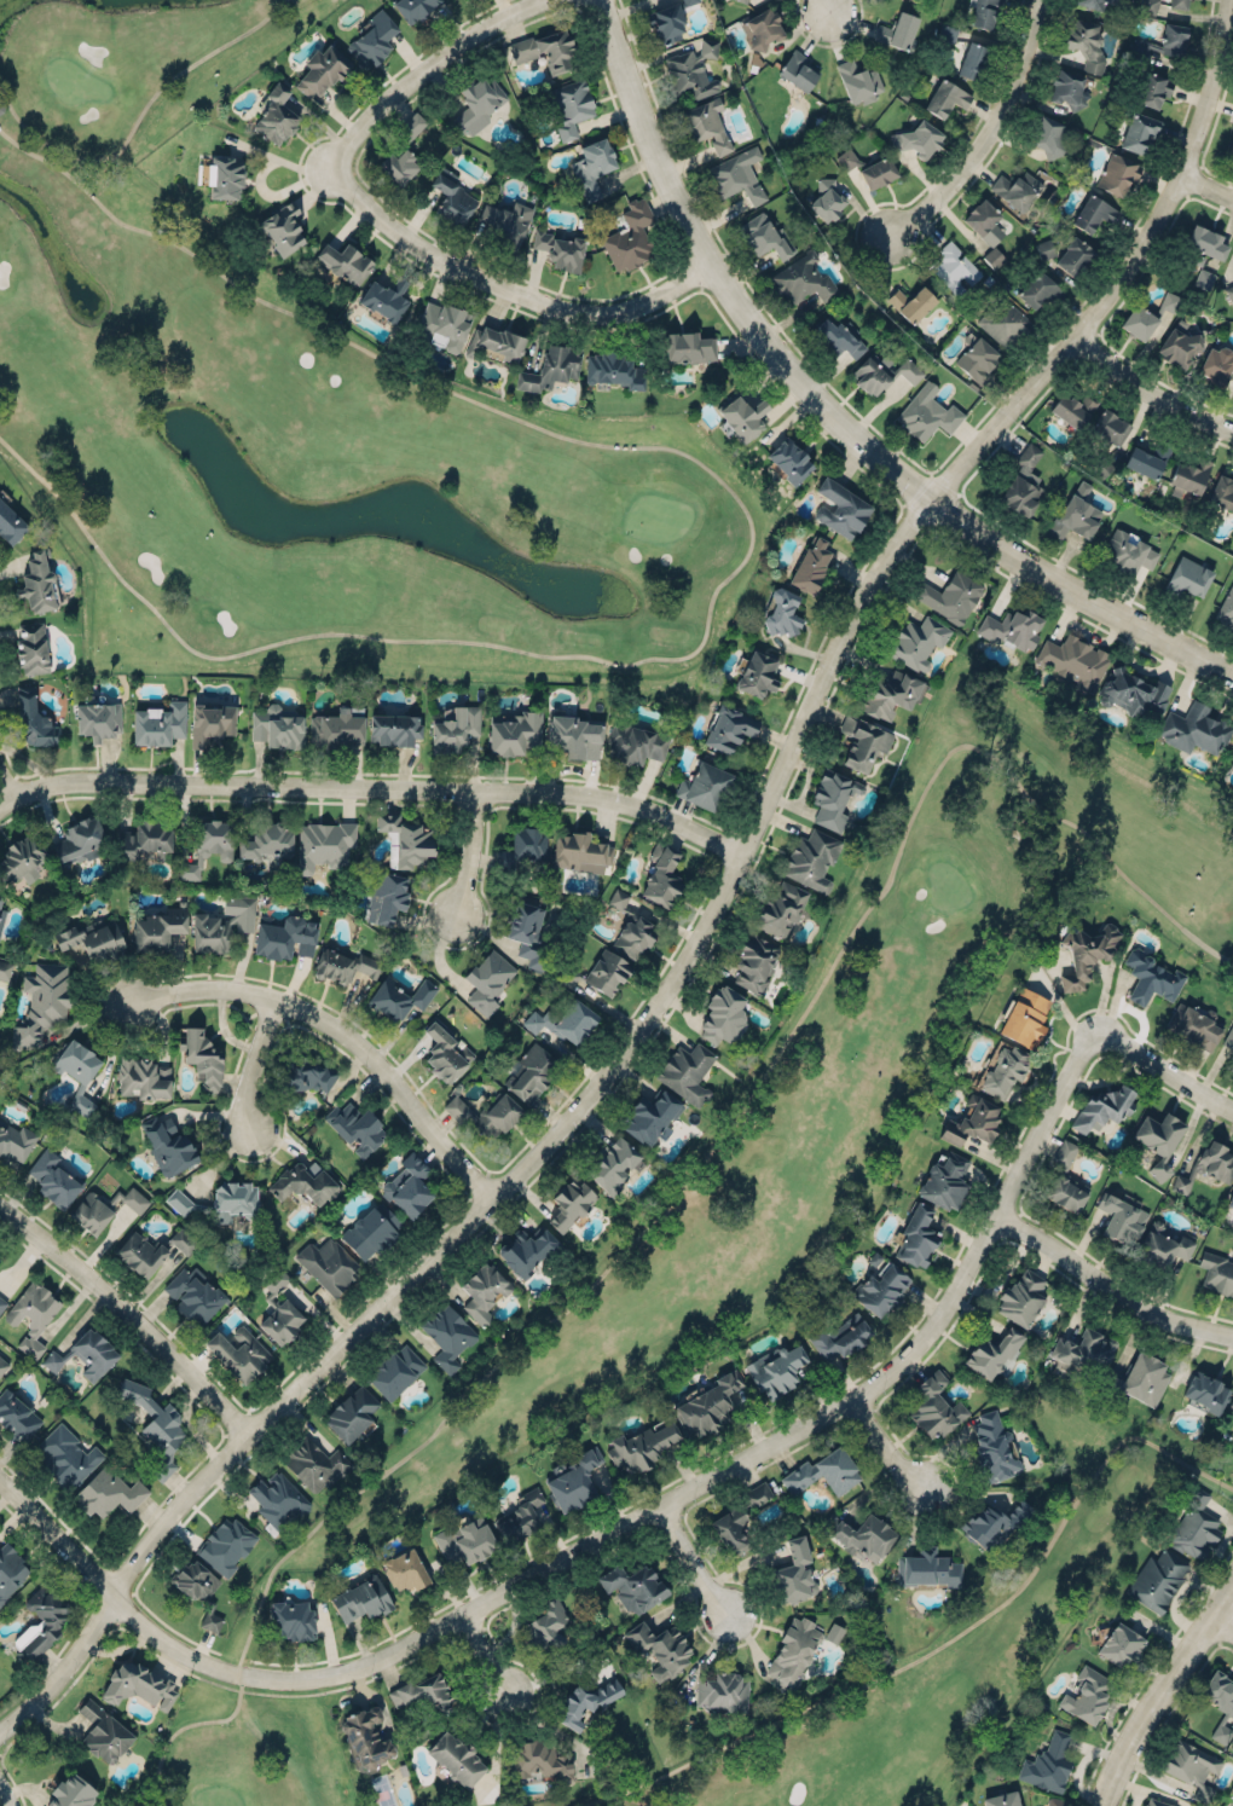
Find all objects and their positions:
building: (739, 0)
building: (1092, 2)
building: (1176, 2)
building: (1148, 6)
building: (413, 7)
road: (828, 8)
building: (985, 12)
building: (665, 19)
building: (760, 27)
building: (897, 29)
building: (947, 33)
building: (372, 39)
building: (1162, 40)
building: (1084, 44)
building: (545, 50)
building: (972, 60)
road: (430, 66)
building: (320, 68)
building: (690, 69)
building: (799, 70)
building: (858, 81)
building: (1066, 86)
building: (1152, 87)
building: (945, 97)
building: (475, 103)
building: (569, 104)
building: (274, 114)
road: (137, 118)
building: (706, 121)
building: (1138, 131)
road: (988, 133)
building: (1047, 135)
building: (916, 138)
building: (1231, 145)
building: (403, 151)
building: (846, 158)
building: (594, 166)
building: (878, 172)
building: (1117, 173)
building: (224, 174)
building: (736, 174)
road: (1206, 185)
building: (1017, 189)
building: (451, 195)
building: (824, 198)
building: (1093, 212)
building: (983, 219)
building: (506, 221)
building: (282, 228)
building: (629, 236)
building: (764, 236)
building: (1205, 242)
building: (561, 248)
building: (1044, 248)
building: (992, 256)
building: (1073, 256)
building: (343, 261)
building: (954, 268)
building: (801, 278)
building: (1203, 279)
road: (510, 282)
building: (1038, 288)
building: (1229, 291)
building: (383, 296)
building: (910, 301)
building: (1170, 302)
building: (1003, 322)
building: (1138, 322)
building: (442, 324)
building: (838, 337)
building: (502, 341)
building: (1177, 345)
building: (687, 346)
building: (977, 359)
building: (1217, 365)
building: (612, 367)
building: (882, 372)
road: (1151, 386)
building: (1072, 409)
building: (925, 411)
road: (832, 413)
building: (741, 415)
park: (305, 423)
building: (1108, 426)
building: (789, 459)
building: (1142, 461)
building: (1187, 475)
building: (1023, 481)
building: (1221, 488)
building: (840, 508)
building: (1075, 513)
building: (10, 523)
building: (1127, 551)
road: (745, 557)
building: (809, 566)
building: (1188, 575)
building: (36, 581)
building: (949, 595)
building: (1226, 608)
building: (781, 610)
building: (1011, 627)
building: (915, 642)
building: (31, 647)
building: (1072, 660)
building: (756, 673)
building: (1131, 693)
building: (888, 694)
building: (97, 718)
building: (33, 720)
building: (210, 722)
building: (158, 723)
building: (277, 727)
building: (394, 728)
building: (455, 728)
building: (728, 728)
building: (1194, 728)
building: (335, 729)
building: (515, 731)
building: (572, 734)
building: (637, 741)
building: (862, 741)
building: (1231, 756)
road: (6, 785)
building: (704, 786)
road: (381, 787)
building: (833, 798)
road: (6, 801)
building: (406, 837)
building: (146, 838)
building: (79, 839)
building: (267, 839)
building: (323, 844)
building: (207, 846)
building: (521, 847)
building: (581, 847)
road: (470, 852)
building: (811, 859)
building: (21, 861)
building: (661, 878)
building: (0, 897)
building: (386, 897)
building: (781, 908)
building: (1, 915)
building: (222, 924)
road: (705, 924)
building: (158, 927)
building: (631, 927)
building: (527, 932)
building: (284, 937)
building: (92, 938)
building: (1084, 953)
building: (753, 962)
building: (343, 965)
building: (4, 968)
building: (595, 971)
building: (1151, 977)
building: (487, 979)
building: (399, 997)
building: (41, 1003)
building: (723, 1015)
building: (1024, 1017)
building: (565, 1020)
building: (1193, 1024)
road: (341, 1031)
building: (1228, 1037)
road: (1082, 1049)
building: (446, 1053)
building: (202, 1057)
road: (254, 1060)
building: (687, 1070)
building: (76, 1071)
building: (1003, 1071)
building: (531, 1072)
building: (301, 1075)
building: (141, 1078)
building: (1102, 1107)
building: (486, 1113)
building: (649, 1116)
building: (972, 1121)
building: (354, 1127)
building: (1158, 1139)
building: (15, 1140)
building: (168, 1145)
park: (764, 1147)
building: (1064, 1152)
building: (613, 1164)
building: (1206, 1165)
road: (689, 1176)
building: (53, 1177)
building: (943, 1180)
building: (303, 1183)
building: (409, 1186)
building: (1229, 1198)
building: (233, 1200)
building: (179, 1202)
building: (569, 1203)
building: (103, 1209)
building: (1121, 1216)
building: (371, 1229)
building: (916, 1235)
building: (1162, 1244)
building: (527, 1250)
building: (147, 1251)
building: (0, 1258)
building: (328, 1263)
building: (1216, 1272)
building: (880, 1287)
building: (482, 1291)
building: (192, 1293)
building: (1020, 1298)
building: (2, 1302)
building: (278, 1309)
road: (129, 1312)
building: (31, 1315)
building: (447, 1335)
building: (839, 1337)
building: (1083, 1349)
building: (238, 1353)
building: (85, 1354)
building: (994, 1354)
building: (2, 1364)
building: (775, 1367)
building: (395, 1371)
building: (1136, 1380)
building: (1204, 1391)
building: (1231, 1401)
building: (710, 1403)
building: (934, 1406)
building: (351, 1413)
building: (17, 1416)
building: (155, 1425)
building: (643, 1443)
road: (885, 1445)
building: (992, 1447)
building: (69, 1457)
building: (314, 1464)
building: (822, 1472)
building: (574, 1481)
building: (109, 1492)
building: (757, 1493)
building: (277, 1499)
road: (637, 1515)
building: (521, 1516)
building: (992, 1524)
building: (1194, 1527)
building: (730, 1528)
building: (861, 1534)
building: (465, 1540)
building: (225, 1545)
road: (689, 1561)
building: (927, 1568)
building: (404, 1569)
building: (11, 1570)
building: (793, 1573)
building: (195, 1579)
building: (1157, 1579)
building: (633, 1586)
building: (361, 1599)
building: (51, 1620)
building: (293, 1620)
building: (210, 1621)
building: (545, 1625)
road: (1221, 1625)
building: (833, 1632)
road: (942, 1643)
building: (1119, 1644)
park: (945, 1645)
building: (659, 1646)
building: (792, 1651)
road: (484, 1652)
road: (555, 1671)
building: (138, 1686)
road: (1159, 1689)
building: (723, 1691)
building: (424, 1692)
building: (1087, 1694)
building: (586, 1701)
building: (1220, 1701)
building: (102, 1731)
building: (365, 1737)
building: (1231, 1746)
building: (455, 1758)
building: (540, 1759)
building: (1047, 1764)
building: (1192, 1766)
building: (71, 1793)
road: (6, 1794)
building: (1001, 1800)
building: (1057, 1801)
building: (1153, 1804)

